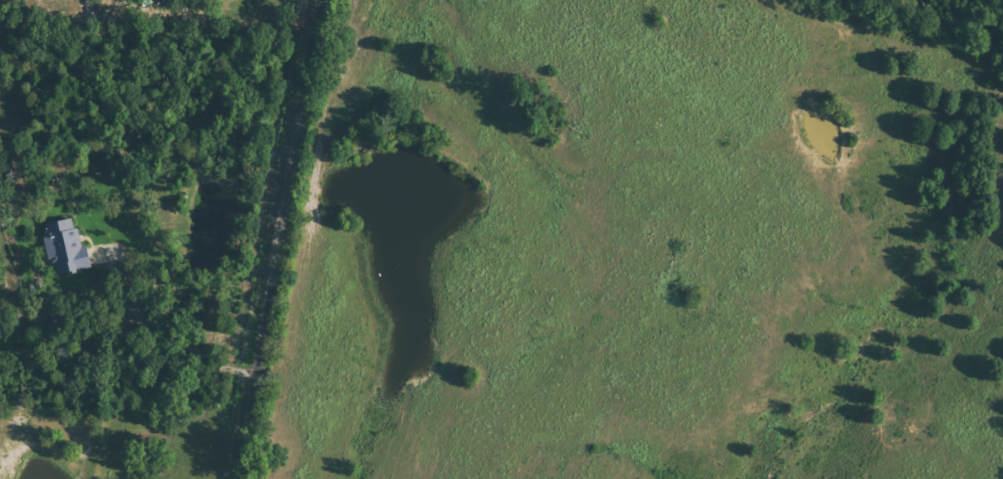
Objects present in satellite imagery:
road: (280, 239)
building: (64, 246)
road: (166, 334)

